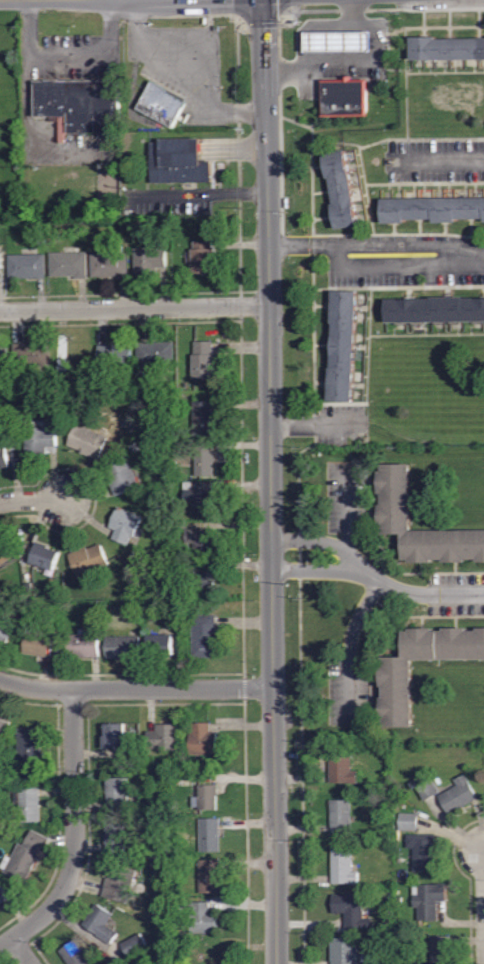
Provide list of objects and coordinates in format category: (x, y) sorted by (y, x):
building: (342, 41)
building: (446, 47)
road: (201, 57)
road: (362, 57)
road: (71, 61)
building: (342, 93)
building: (80, 101)
building: (162, 101)
building: (178, 160)
road: (434, 161)
building: (339, 188)
building: (431, 209)
building: (123, 229)
building: (54, 237)
building: (41, 243)
road: (376, 244)
building: (202, 257)
building: (1, 260)
building: (109, 261)
building: (148, 261)
building: (25, 265)
building: (68, 265)
road: (134, 306)
building: (435, 309)
building: (341, 345)
building: (114, 355)
building: (32, 356)
building: (154, 358)
building: (3, 361)
building: (203, 361)
building: (8, 390)
building: (50, 413)
building: (202, 420)
road: (312, 425)
building: (5, 428)
building: (189, 435)
building: (40, 439)
building: (87, 442)
building: (134, 447)
building: (172, 449)
building: (3, 455)
building: (200, 457)
building: (172, 465)
building: (122, 477)
road: (270, 481)
building: (199, 498)
road: (32, 500)
road: (347, 512)
building: (171, 515)
building: (393, 515)
building: (125, 526)
building: (202, 543)
building: (5, 552)
building: (45, 557)
building: (89, 559)
building: (135, 565)
building: (186, 567)
road: (376, 579)
building: (205, 584)
building: (29, 588)
building: (136, 593)
building: (139, 615)
building: (177, 624)
building: (5, 633)
building: (204, 636)
building: (161, 644)
building: (39, 645)
building: (82, 645)
building: (122, 648)
road: (349, 649)
building: (394, 674)
road: (136, 687)
building: (3, 732)
building: (114, 737)
building: (163, 739)
building: (203, 741)
building: (29, 747)
building: (134, 754)
building: (189, 765)
building: (340, 765)
building: (456, 794)
building: (116, 795)
building: (206, 798)
building: (28, 805)
building: (148, 809)
building: (339, 815)
building: (408, 822)
road: (72, 825)
building: (208, 835)
building: (114, 837)
building: (420, 850)
building: (24, 857)
building: (341, 865)
building: (208, 877)
road: (483, 884)
building: (119, 885)
building: (3, 896)
building: (426, 899)
building: (349, 910)
building: (198, 917)
building: (100, 925)
road: (6, 941)
building: (134, 946)
building: (439, 949)
road: (20, 950)
building: (342, 950)
building: (73, 954)

